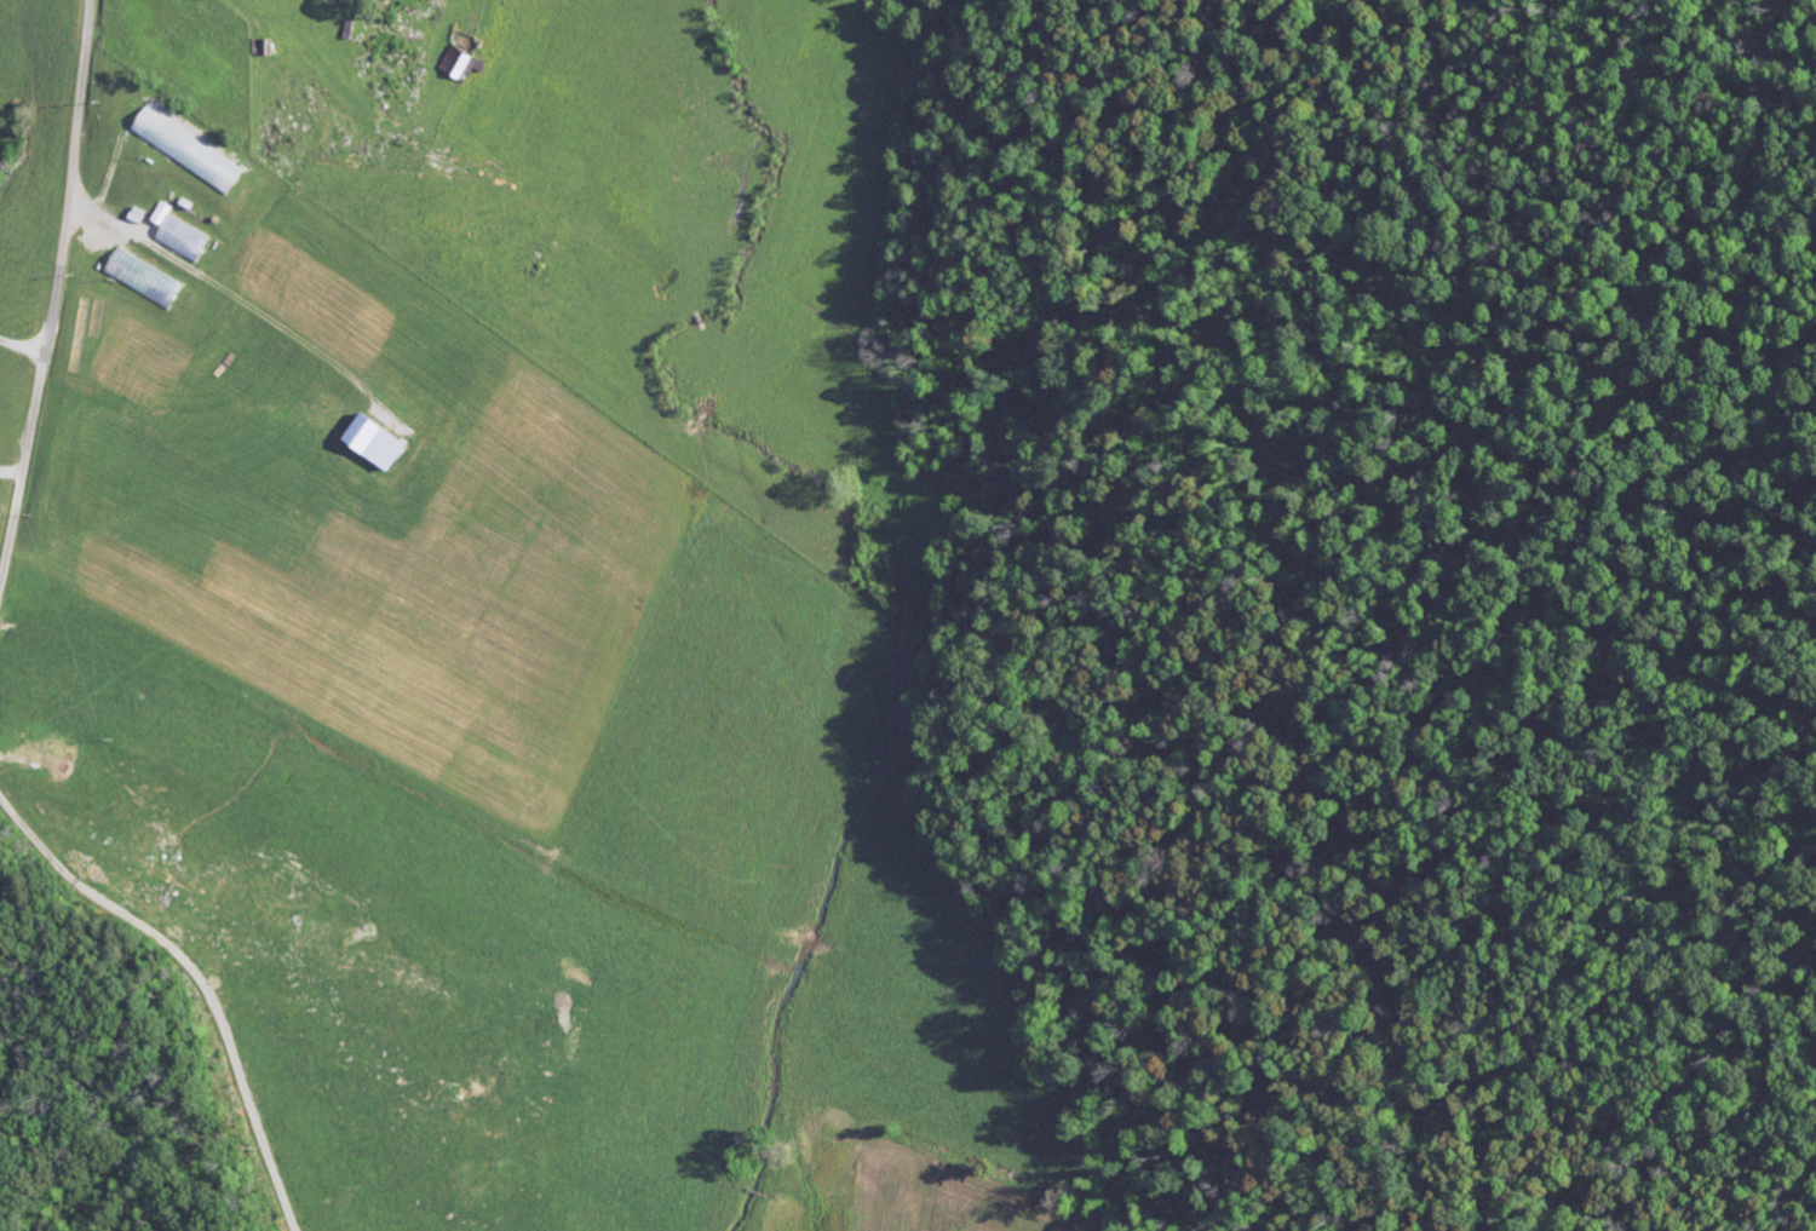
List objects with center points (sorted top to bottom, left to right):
road: (305, 19)
building: (462, 67)
building: (190, 151)
building: (179, 236)
building: (144, 280)
road: (54, 295)
building: (377, 444)
road: (203, 973)

